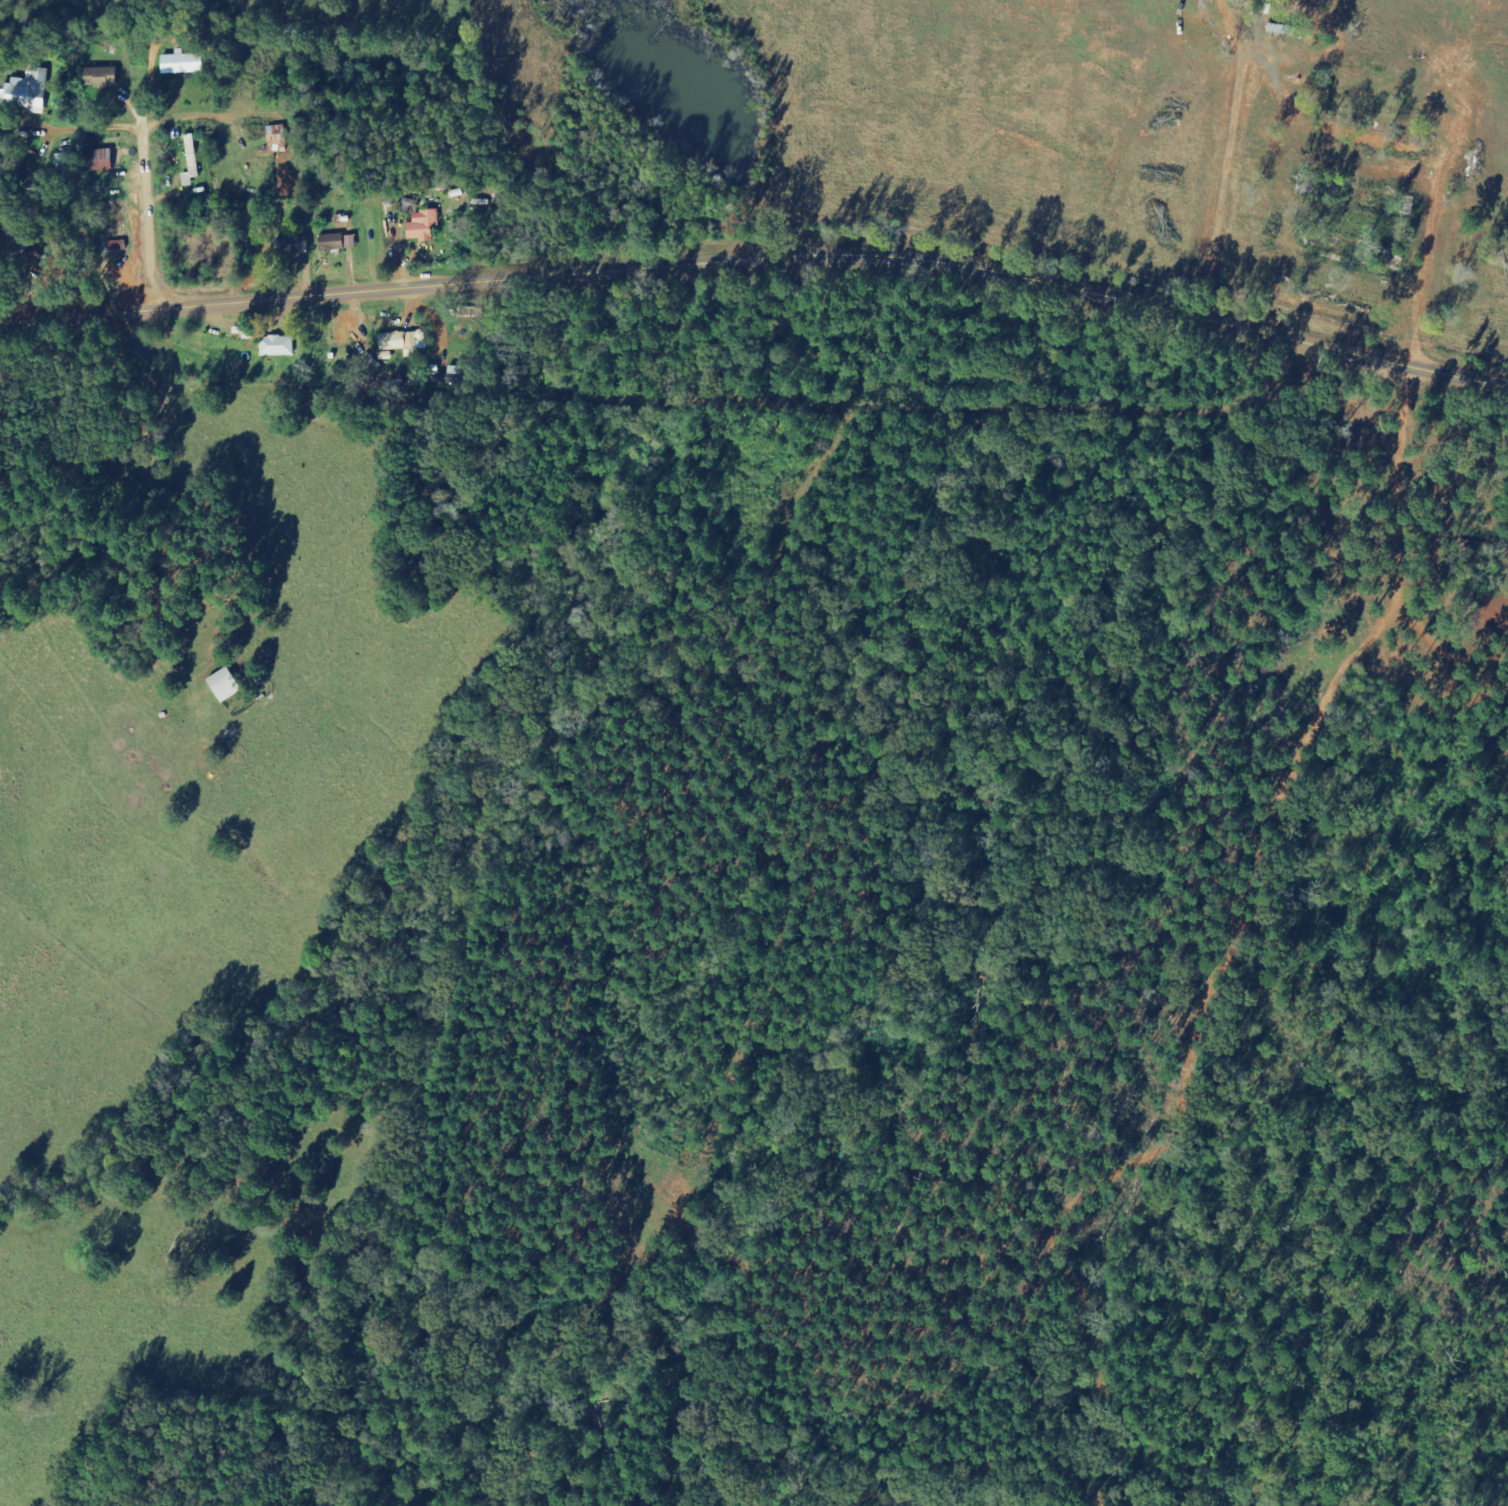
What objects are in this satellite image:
building: (182, 65)
building: (101, 77)
building: (27, 94)
road: (1503, 138)
building: (277, 140)
building: (99, 161)
building: (191, 162)
building: (422, 226)
building: (338, 243)
building: (293, 247)
road: (759, 259)
building: (400, 344)
building: (277, 347)
building: (224, 686)

